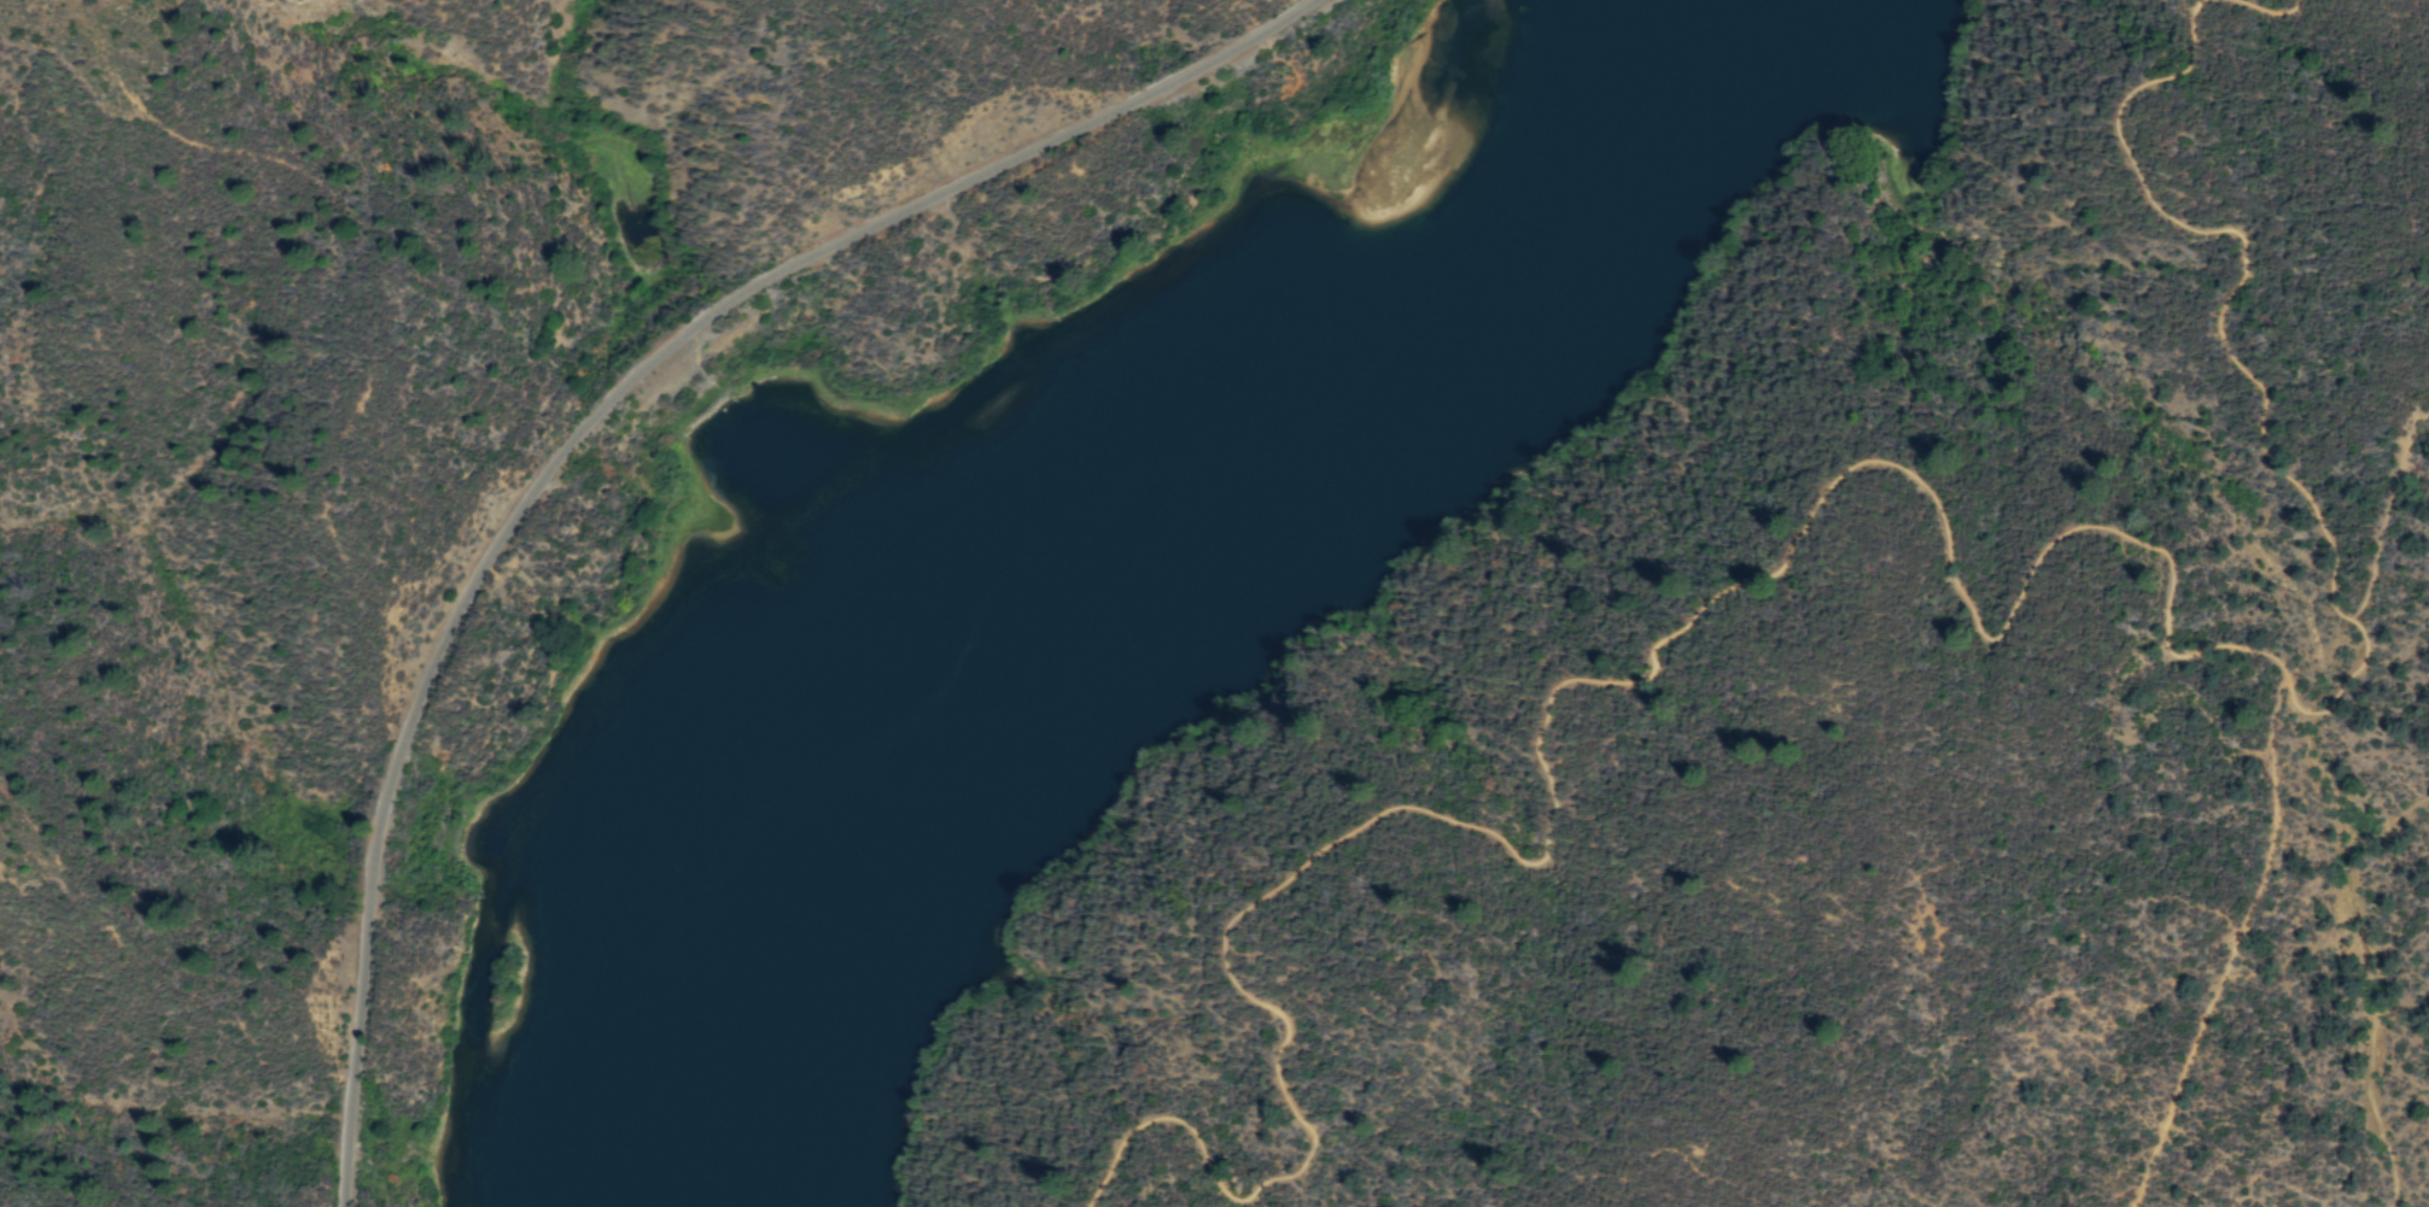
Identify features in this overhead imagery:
road: (2277, 10)
river: (1297, 412)
road: (591, 423)
road: (1913, 479)
road: (2384, 511)
road: (2319, 649)
road: (2234, 945)
river: (767, 1009)

